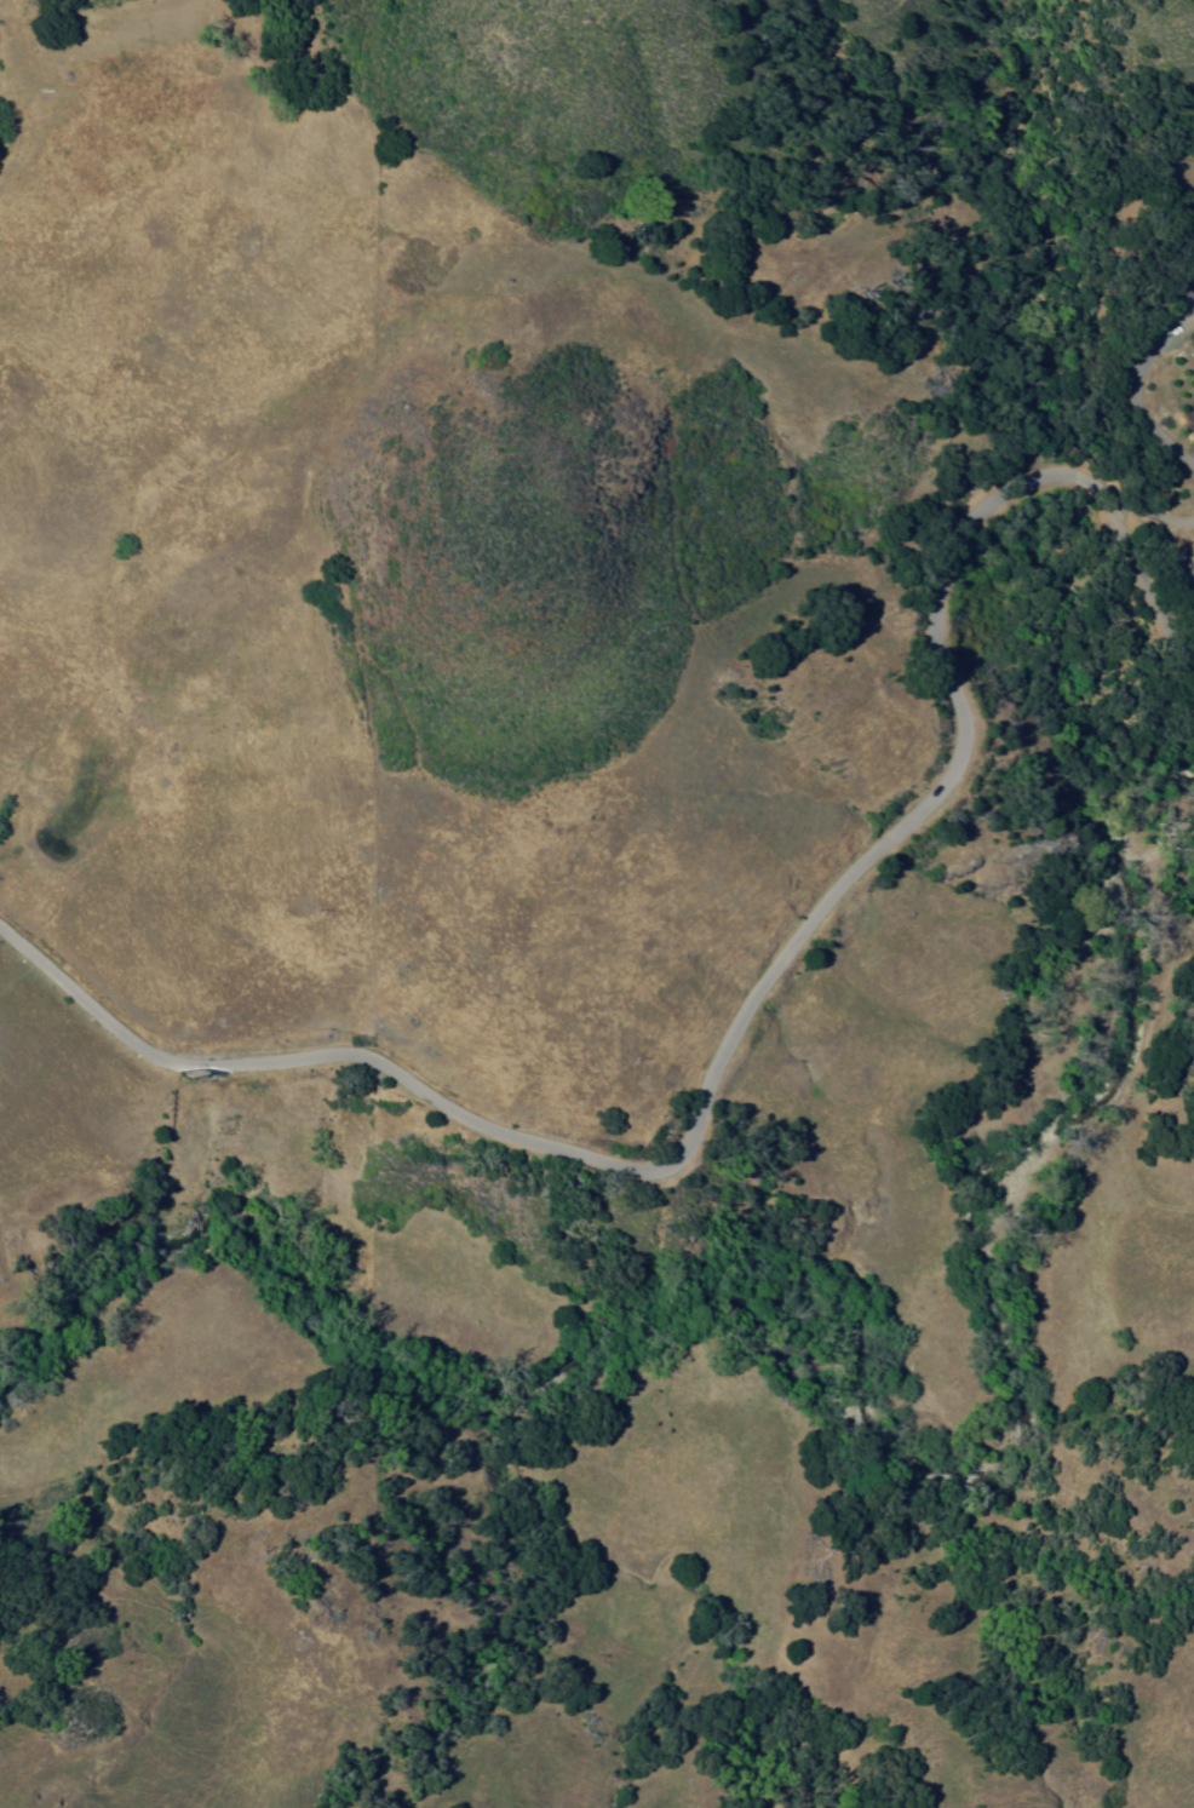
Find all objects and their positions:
road: (38, 99)
building: (1192, 299)
road: (1140, 398)
road: (1150, 511)
road: (742, 1005)

